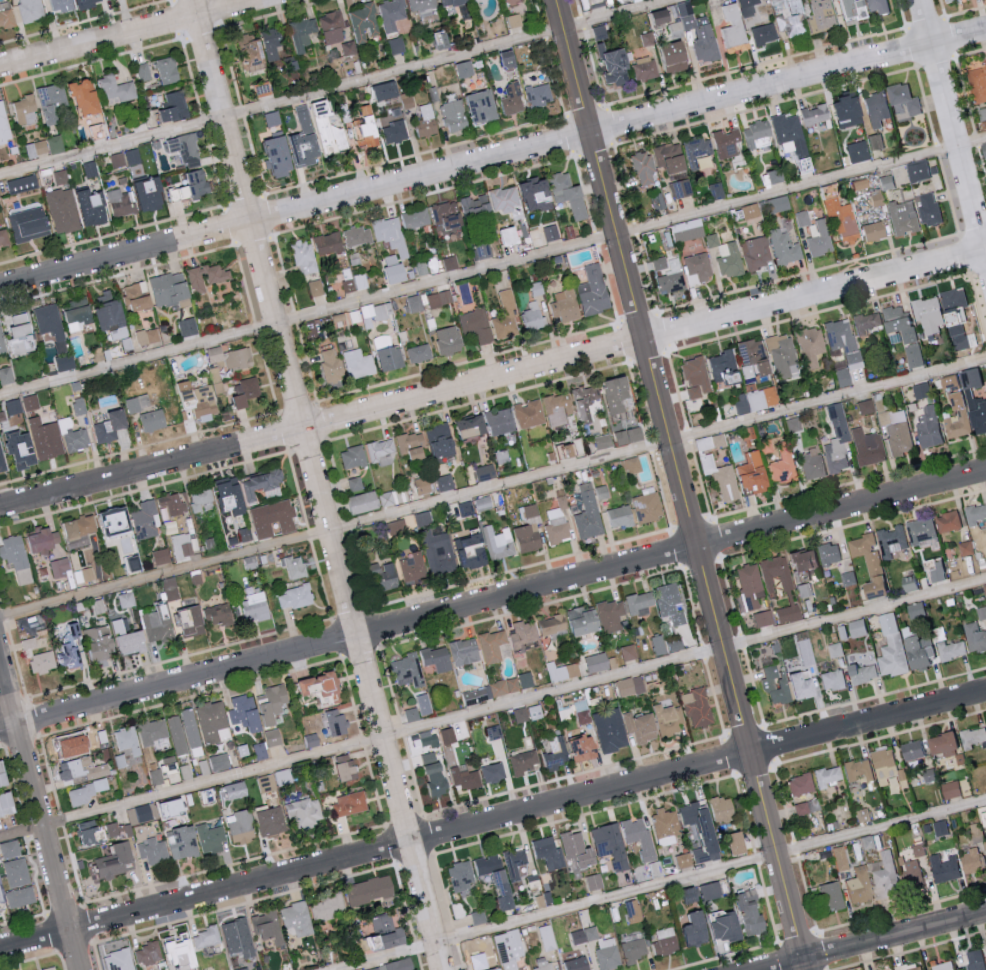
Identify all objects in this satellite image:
building: (88, 2)
building: (474, 2)
building: (62, 5)
building: (877, 6)
building: (746, 7)
building: (847, 8)
building: (31, 10)
building: (391, 13)
building: (6, 15)
building: (820, 15)
building: (652, 16)
building: (788, 16)
building: (513, 20)
building: (329, 26)
building: (360, 26)
building: (730, 26)
building: (302, 33)
building: (597, 33)
building: (762, 33)
road: (131, 34)
building: (698, 36)
building: (443, 39)
building: (433, 40)
building: (395, 45)
building: (267, 48)
building: (735, 48)
building: (668, 56)
building: (501, 59)
building: (610, 65)
building: (643, 68)
building: (461, 69)
building: (168, 70)
building: (144, 71)
building: (977, 83)
road: (338, 88)
building: (118, 90)
building: (537, 95)
building: (88, 96)
building: (902, 97)
building: (510, 99)
building: (405, 100)
building: (53, 101)
building: (476, 106)
building: (175, 107)
building: (874, 109)
building: (26, 110)
building: (394, 111)
building: (843, 111)
building: (982, 113)
building: (452, 115)
building: (812, 115)
building: (305, 119)
building: (424, 122)
building: (4, 125)
road: (952, 127)
building: (97, 131)
building: (397, 131)
building: (786, 134)
building: (754, 135)
building: (875, 140)
building: (723, 142)
building: (56, 144)
building: (184, 148)
building: (307, 148)
building: (37, 149)
building: (983, 149)
building: (696, 154)
building: (280, 156)
building: (133, 157)
building: (667, 158)
building: (118, 160)
road: (493, 161)
building: (642, 169)
building: (917, 169)
building: (91, 170)
building: (61, 177)
building: (24, 184)
building: (855, 184)
building: (192, 187)
building: (679, 188)
building: (531, 189)
building: (566, 194)
building: (151, 195)
building: (505, 201)
building: (656, 202)
building: (121, 203)
building: (772, 205)
building: (472, 207)
building: (927, 207)
building: (92, 208)
building: (64, 210)
building: (748, 211)
building: (445, 215)
building: (417, 217)
building: (902, 217)
building: (800, 218)
building: (840, 218)
building: (30, 224)
building: (686, 230)
building: (549, 231)
building: (871, 231)
building: (391, 233)
building: (508, 234)
building: (358, 236)
building: (4, 238)
building: (818, 239)
building: (330, 244)
building: (782, 246)
building: (480, 250)
building: (755, 251)
building: (724, 256)
building: (304, 258)
building: (450, 263)
building: (658, 263)
building: (696, 267)
road: (493, 269)
building: (396, 270)
building: (209, 279)
building: (668, 283)
building: (171, 288)
building: (316, 288)
building: (535, 288)
building: (591, 291)
building: (138, 297)
building: (440, 299)
building: (416, 303)
building: (563, 305)
building: (79, 310)
building: (944, 316)
building: (506, 317)
building: (533, 318)
building: (897, 321)
building: (865, 322)
building: (476, 325)
building: (188, 327)
building: (23, 335)
building: (838, 335)
building: (894, 336)
building: (148, 337)
building: (2, 341)
building: (449, 341)
building: (808, 346)
building: (420, 353)
building: (913, 355)
building: (780, 356)
building: (232, 357)
building: (750, 357)
building: (853, 360)
building: (66, 363)
building: (359, 364)
building: (332, 366)
building: (719, 367)
building: (7, 376)
building: (693, 377)
building: (841, 377)
road: (493, 380)
building: (946, 380)
building: (920, 389)
building: (248, 391)
building: (620, 395)
building: (200, 400)
building: (752, 401)
building: (973, 401)
building: (31, 403)
building: (139, 403)
building: (590, 404)
building: (80, 406)
building: (14, 407)
building: (864, 407)
building: (559, 408)
building: (530, 414)
building: (955, 416)
building: (154, 420)
building: (501, 422)
building: (793, 424)
building: (111, 426)
building: (474, 426)
building: (928, 426)
building: (895, 431)
building: (630, 436)
building: (46, 439)
building: (77, 439)
building: (836, 439)
building: (442, 441)
building: (604, 442)
building: (766, 445)
building: (413, 446)
building: (867, 446)
building: (381, 449)
building: (23, 450)
building: (354, 458)
building: (2, 459)
building: (811, 464)
building: (781, 467)
building: (487, 472)
building: (750, 475)
building: (720, 480)
building: (446, 483)
building: (263, 484)
road: (317, 484)
building: (356, 485)
building: (424, 485)
road: (680, 485)
road: (492, 488)
building: (603, 493)
building: (233, 495)
building: (389, 499)
building: (203, 500)
building: (365, 502)
building: (175, 503)
building: (485, 503)
building: (649, 508)
building: (528, 511)
building: (589, 513)
building: (974, 513)
building: (622, 516)
building: (274, 518)
building: (147, 521)
building: (946, 521)
building: (117, 522)
building: (398, 526)
building: (557, 526)
building: (82, 527)
building: (919, 529)
building: (528, 539)
building: (891, 540)
building: (45, 541)
building: (498, 543)
building: (182, 546)
building: (965, 547)
building: (472, 552)
building: (439, 553)
building: (828, 553)
building: (162, 557)
building: (18, 558)
building: (802, 560)
building: (868, 564)
building: (295, 567)
building: (413, 567)
building: (932, 569)
building: (776, 574)
building: (384, 576)
building: (848, 577)
building: (907, 582)
building: (750, 585)
building: (172, 589)
building: (804, 589)
building: (984, 589)
building: (295, 597)
building: (128, 600)
road: (492, 600)
building: (641, 603)
building: (670, 603)
building: (255, 607)
building: (914, 609)
building: (981, 612)
building: (787, 614)
building: (219, 615)
building: (612, 615)
building: (761, 619)
building: (585, 620)
building: (194, 621)
building: (160, 624)
building: (554, 625)
building: (119, 627)
building: (856, 628)
building: (524, 634)
building: (974, 637)
building: (102, 643)
building: (132, 643)
building: (666, 645)
building: (495, 646)
building: (890, 646)
building: (803, 648)
building: (835, 649)
building: (950, 649)
building: (465, 652)
building: (40, 653)
building: (629, 653)
building: (914, 653)
building: (69, 657)
building: (438, 659)
building: (598, 663)
building: (408, 671)
building: (562, 672)
building: (860, 673)
building: (527, 680)
building: (831, 680)
building: (797, 685)
building: (323, 686)
building: (631, 686)
building: (774, 686)
building: (505, 687)
building: (478, 695)
building: (275, 704)
road: (491, 707)
building: (699, 708)
building: (246, 713)
building: (528, 714)
building: (413, 715)
building: (670, 719)
building: (214, 723)
building: (336, 723)
building: (642, 727)
building: (611, 730)
building: (184, 732)
building: (495, 732)
building: (153, 733)
building: (973, 735)
building: (449, 736)
building: (101, 737)
building: (274, 737)
building: (128, 740)
building: (941, 744)
building: (71, 745)
building: (584, 748)
building: (910, 749)
building: (556, 753)
building: (525, 762)
building: (220, 763)
building: (884, 766)
building: (86, 767)
building: (348, 770)
building: (857, 770)
building: (494, 772)
building: (436, 774)
building: (4, 775)
building: (826, 776)
building: (157, 777)
building: (466, 778)
building: (798, 785)
building: (949, 789)
building: (238, 790)
building: (86, 792)
building: (207, 796)
building: (351, 804)
building: (7, 805)
building: (173, 807)
building: (805, 807)
building: (725, 809)
road: (40, 812)
building: (144, 813)
building: (305, 813)
building: (273, 822)
road: (492, 822)
building: (667, 826)
building: (703, 826)
building: (242, 827)
building: (939, 827)
building: (113, 830)
building: (93, 832)
building: (985, 833)
building: (210, 838)
building: (183, 842)
building: (624, 842)
building: (866, 842)
building: (739, 843)
building: (918, 848)
building: (10, 849)
building: (579, 850)
building: (154, 851)
building: (549, 852)
building: (839, 858)
building: (685, 860)
building: (971, 860)
building: (118, 861)
building: (515, 864)
building: (943, 868)
building: (17, 873)
building: (912, 874)
building: (463, 876)
building: (497, 878)
building: (872, 878)
building: (595, 882)
road: (665, 885)
building: (371, 891)
building: (711, 891)
building: (692, 895)
building: (830, 895)
building: (21, 897)
building: (332, 906)
building: (752, 916)
building: (298, 919)
building: (269, 928)
building: (728, 929)
building: (698, 930)
building: (237, 934)
building: (585, 935)
building: (206, 937)
building: (548, 938)
building: (666, 942)
road: (881, 942)
building: (179, 947)
building: (510, 949)
building: (635, 950)
building: (149, 953)
building: (609, 954)
building: (974, 959)
building: (119, 961)
building: (480, 963)
building: (578, 964)
building: (941, 965)
building: (397, 966)
building: (546, 967)
building: (51, 968)
building: (497, 969)
building: (886, 969)

